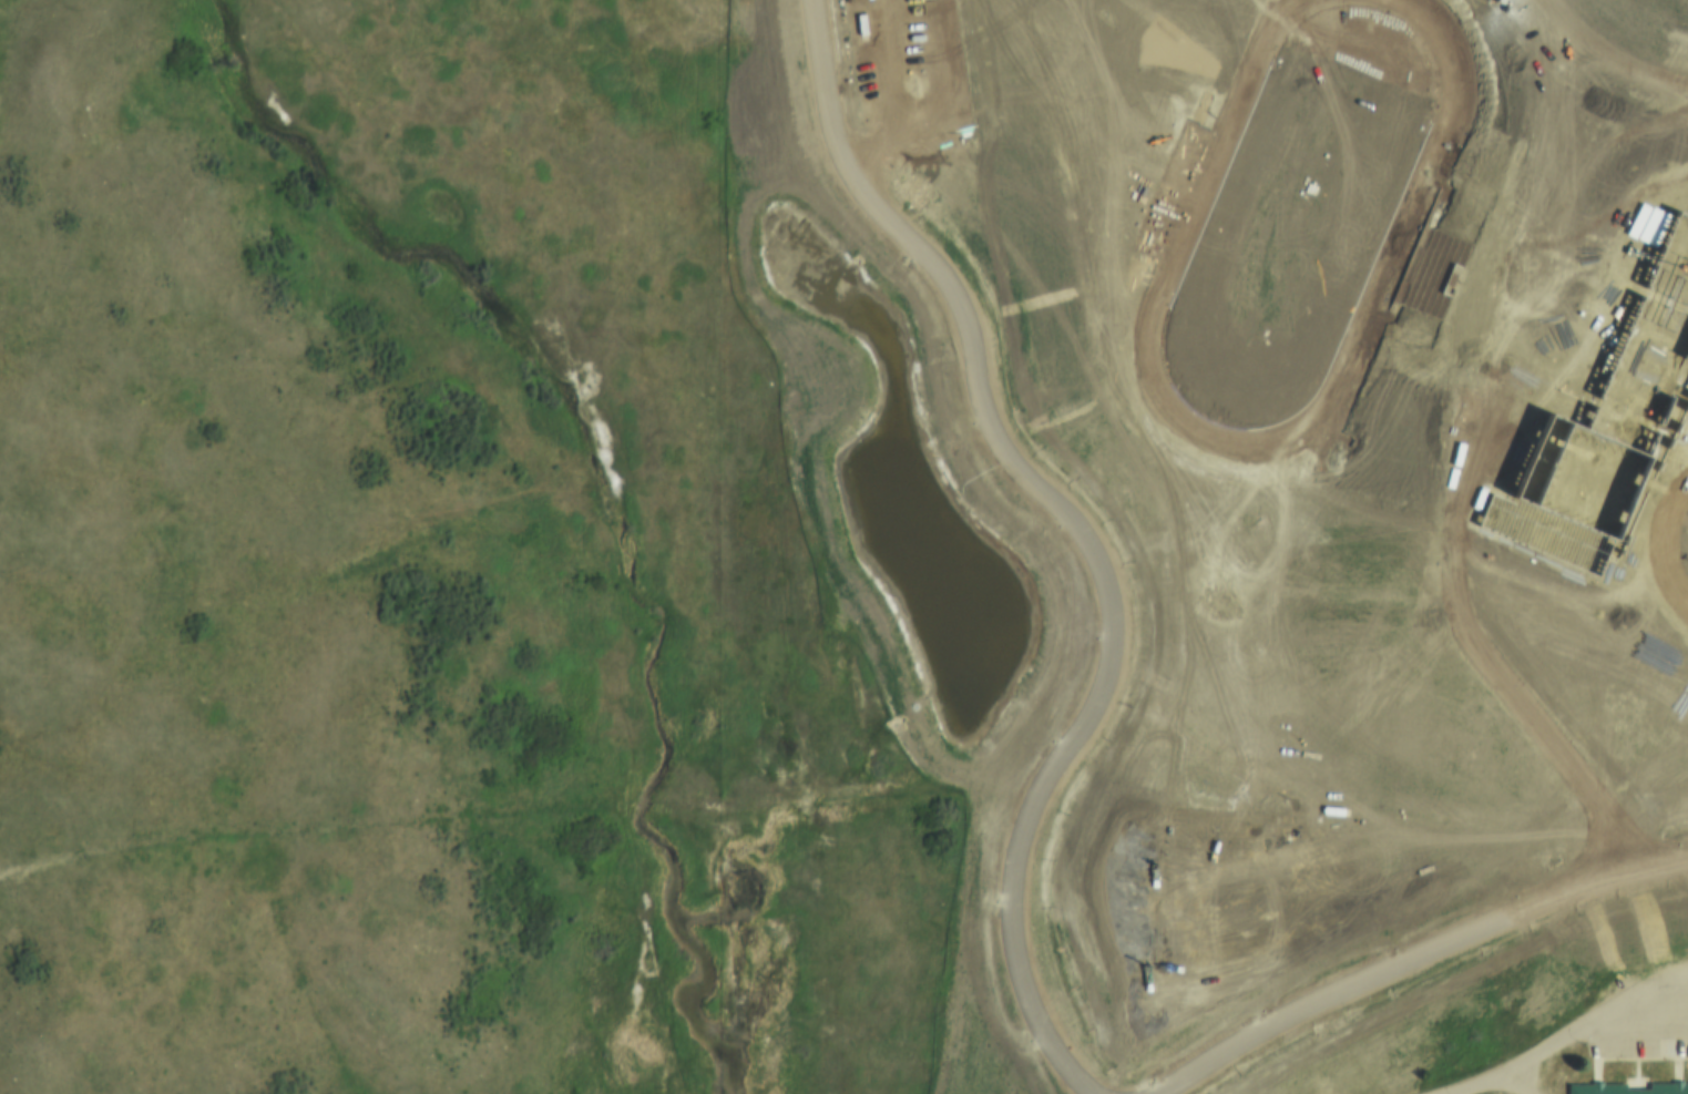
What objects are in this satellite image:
parking lot: (1640, 1010)
road: (1574, 1027)
road: (1521, 1082)
building: (1593, 1088)

